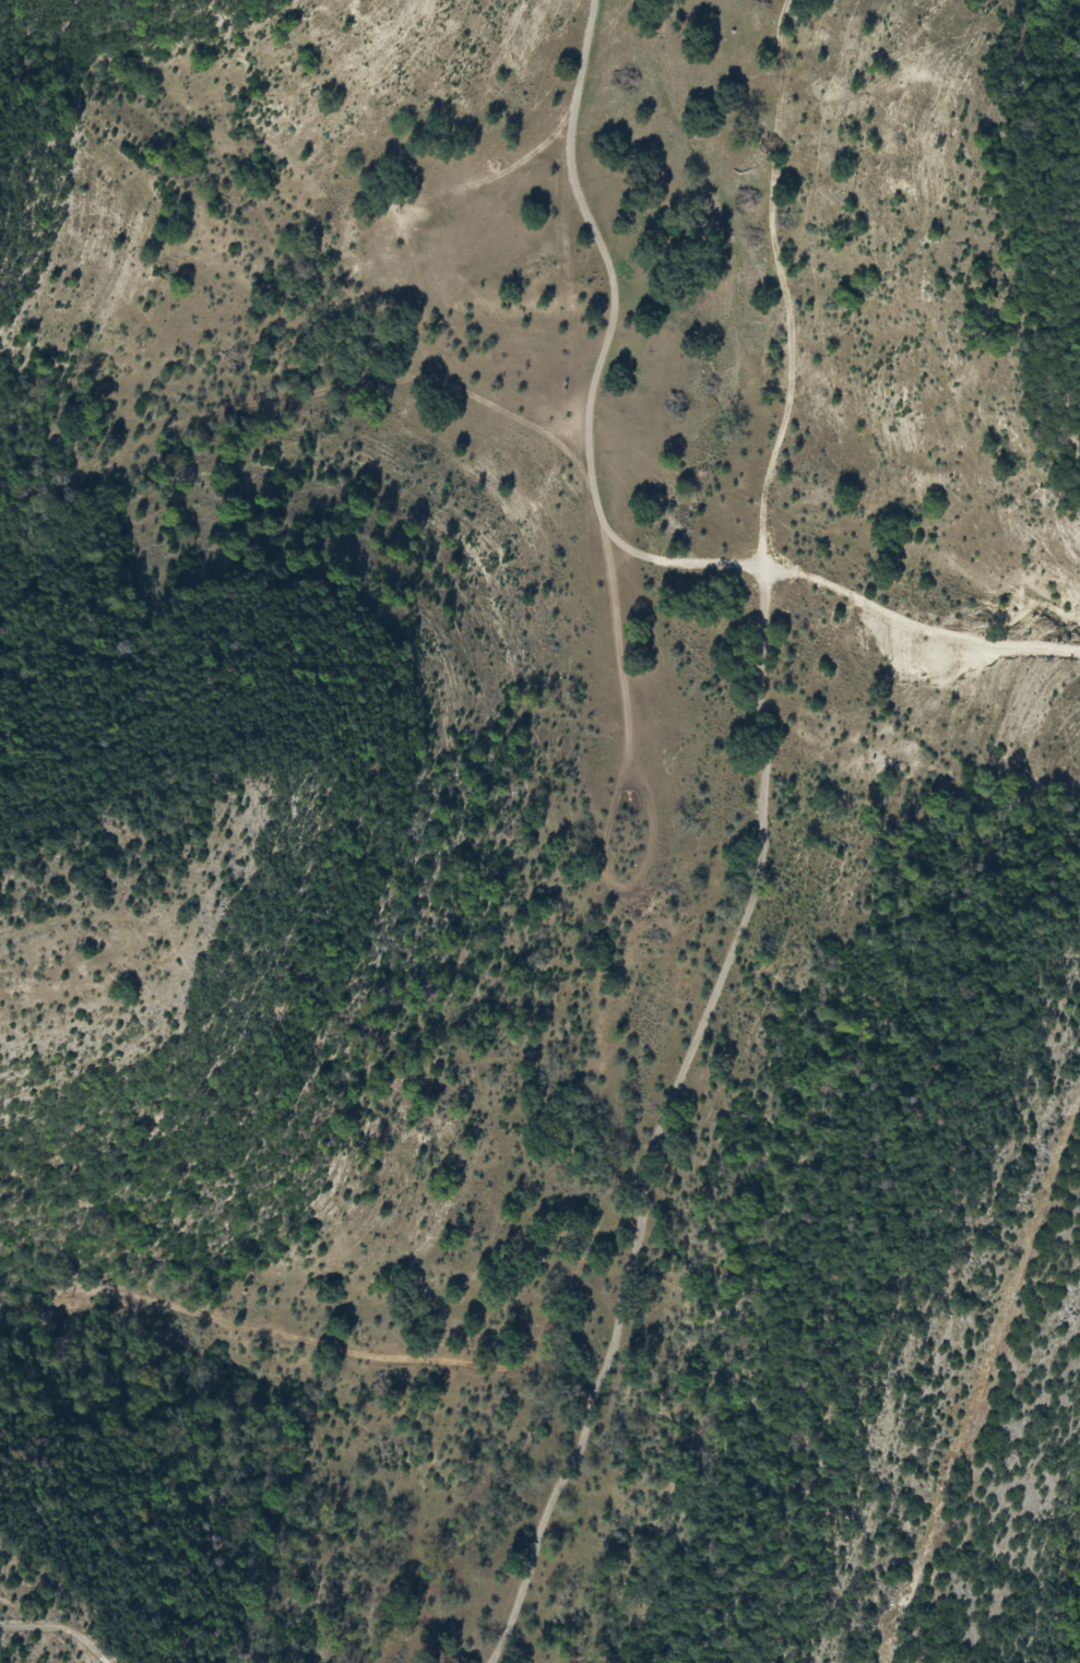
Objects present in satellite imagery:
road: (607, 498)

